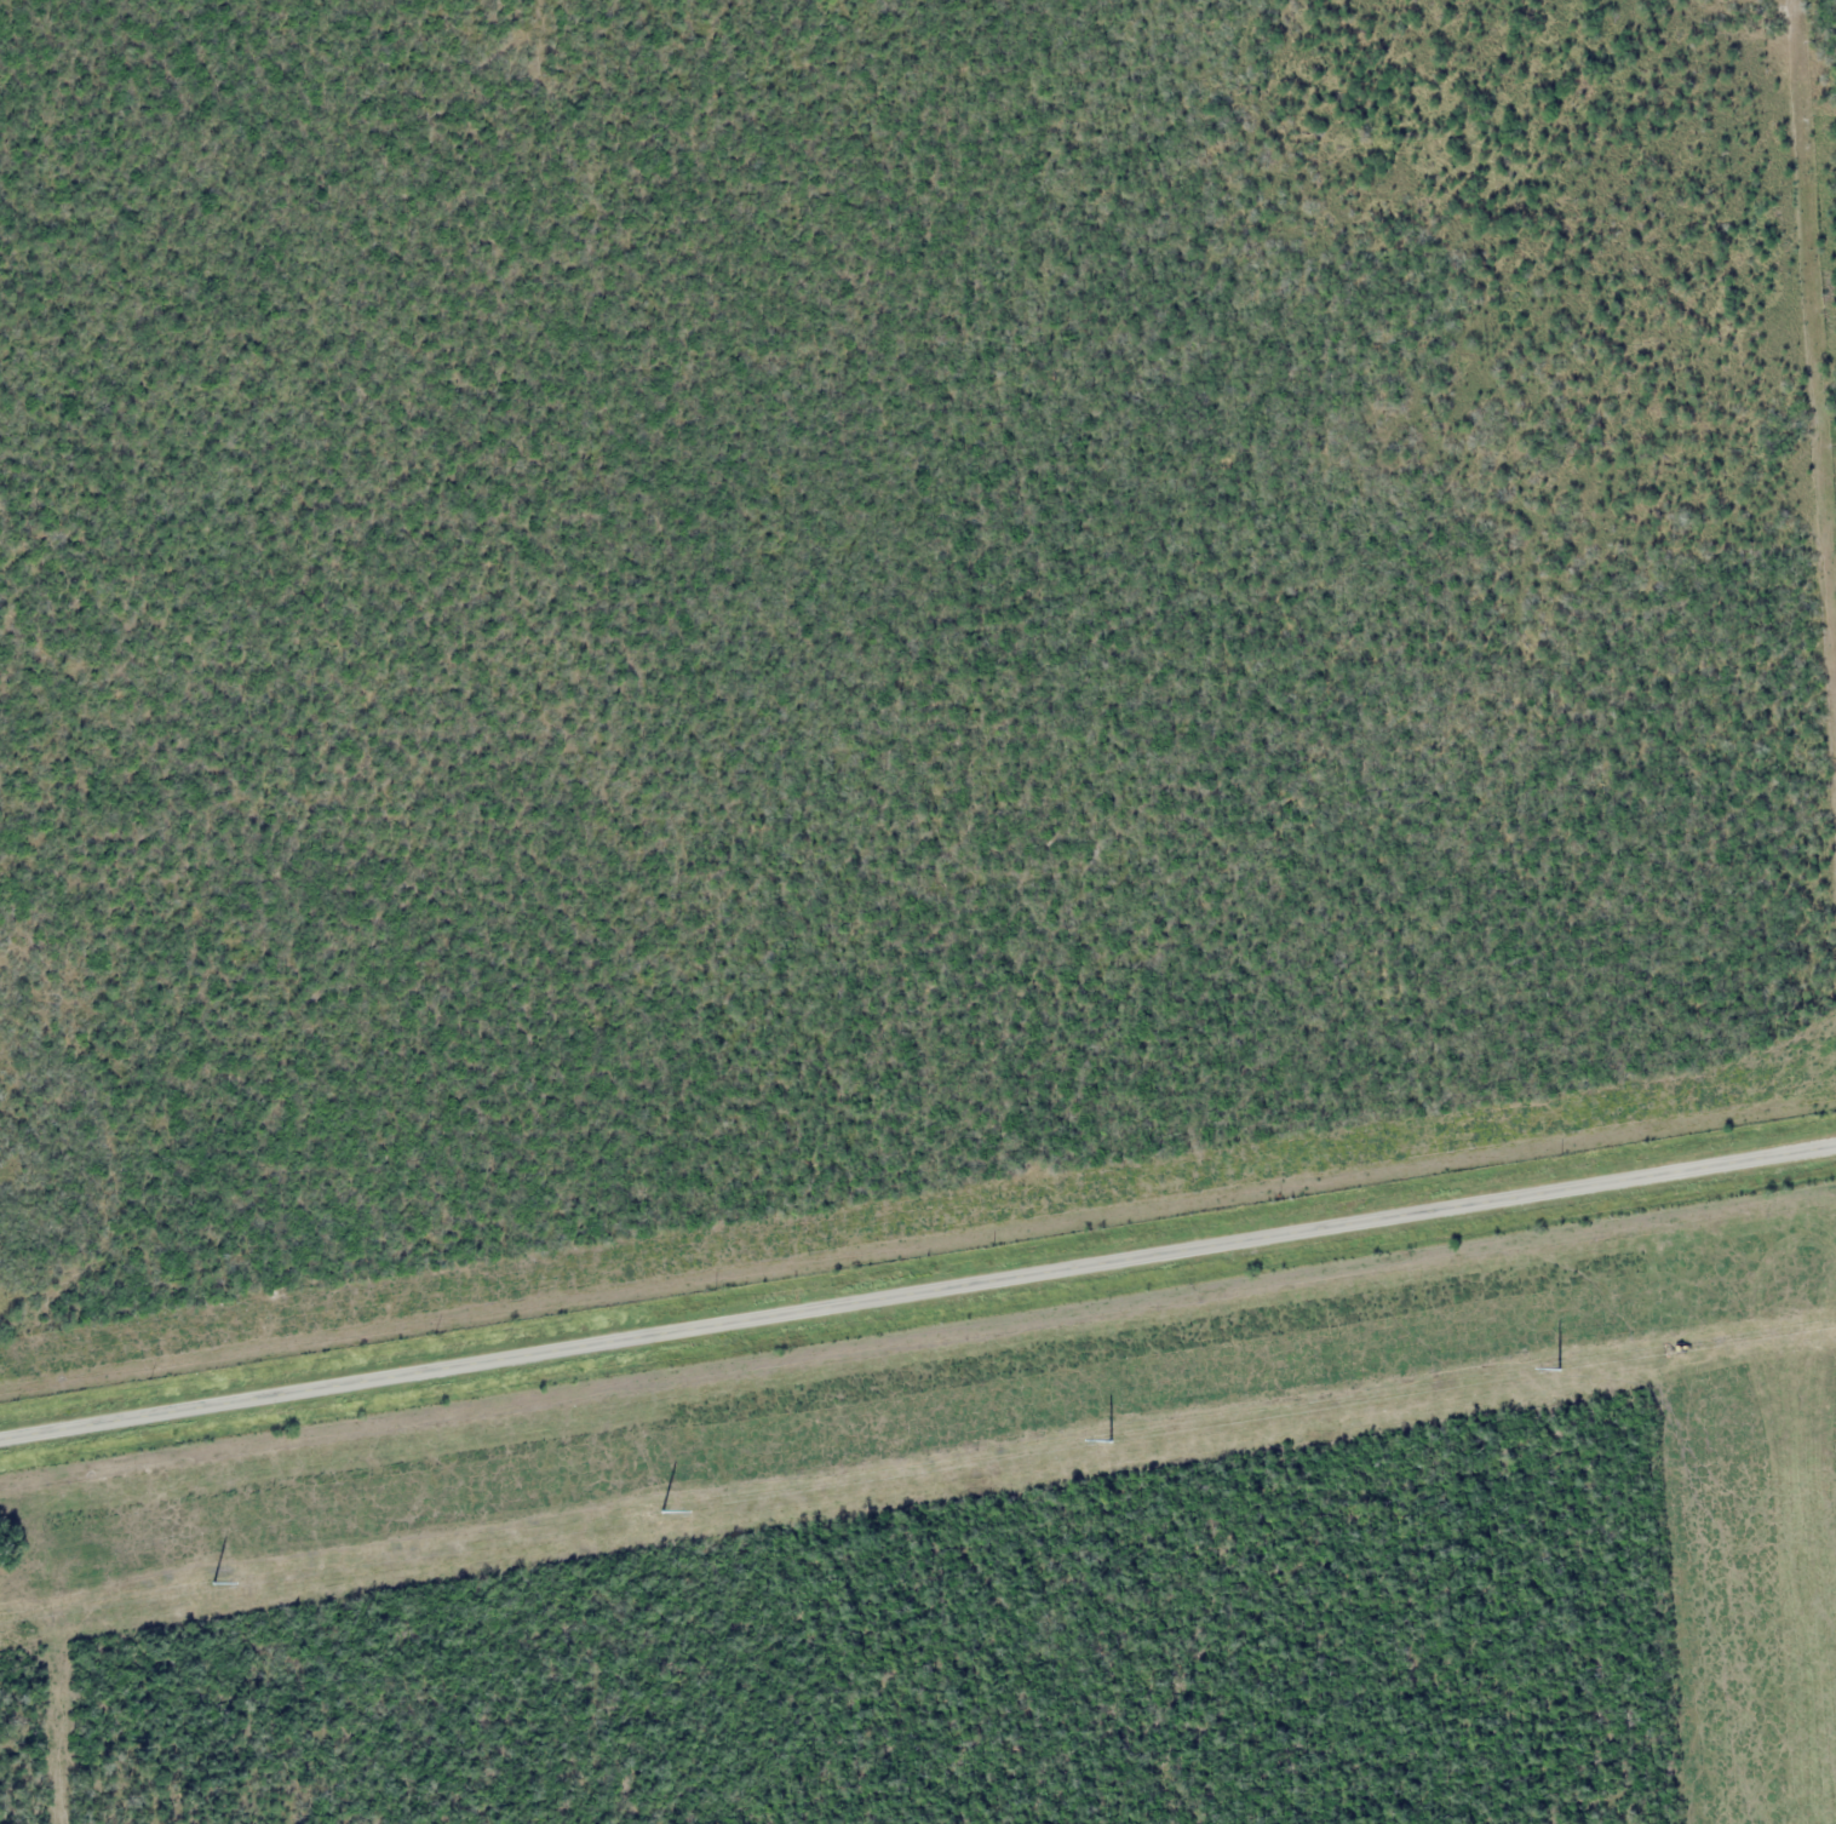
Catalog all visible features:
road: (918, 1294)
power tower: (1545, 1371)
power tower: (1096, 1441)
power tower: (647, 1514)
power tower: (201, 1584)

